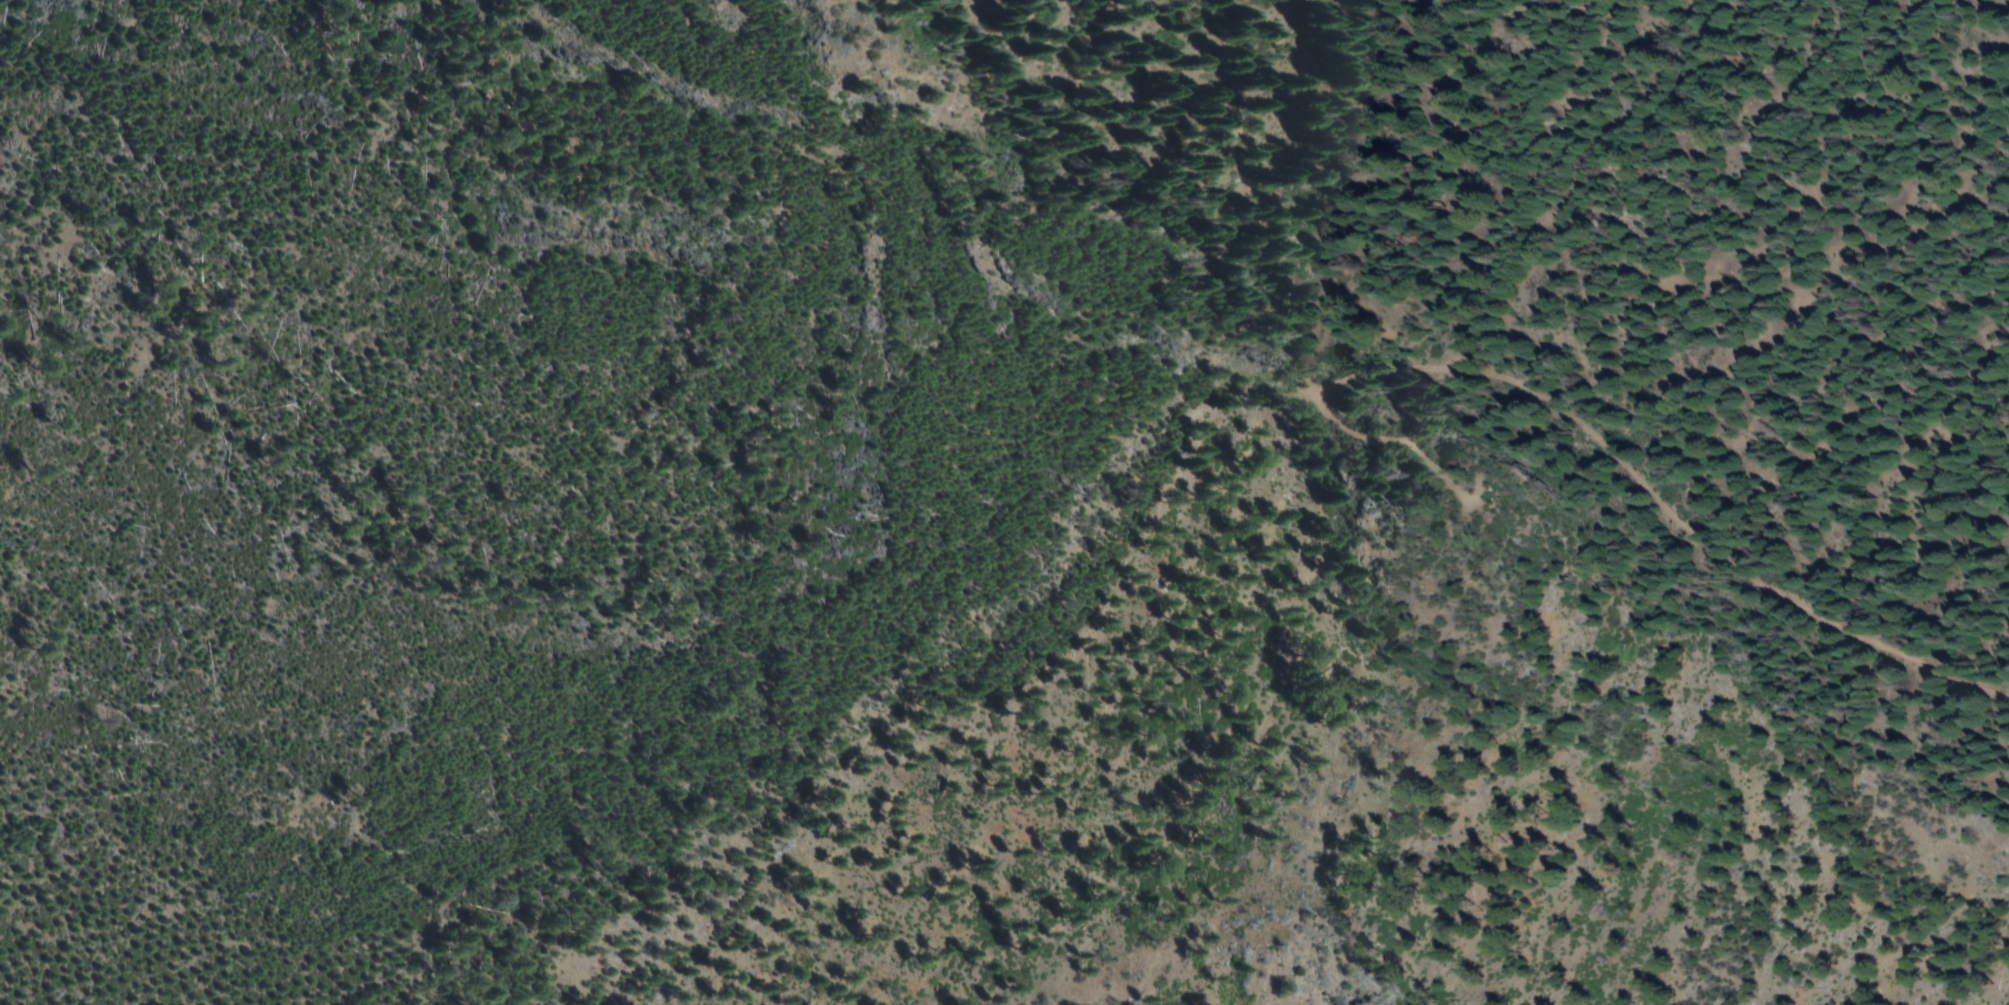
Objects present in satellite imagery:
road: (1673, 493)

